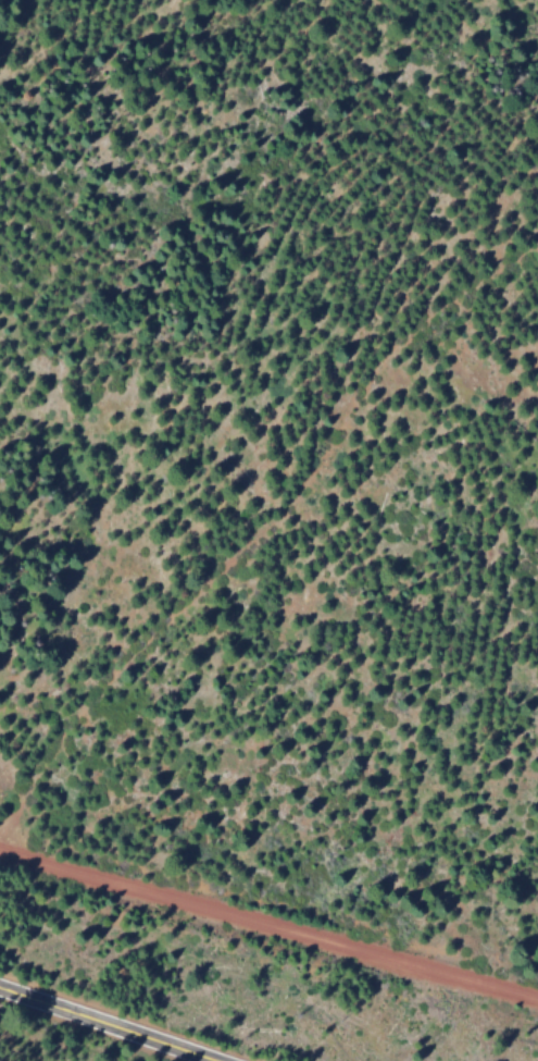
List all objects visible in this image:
road: (268, 921)
road: (113, 1022)

